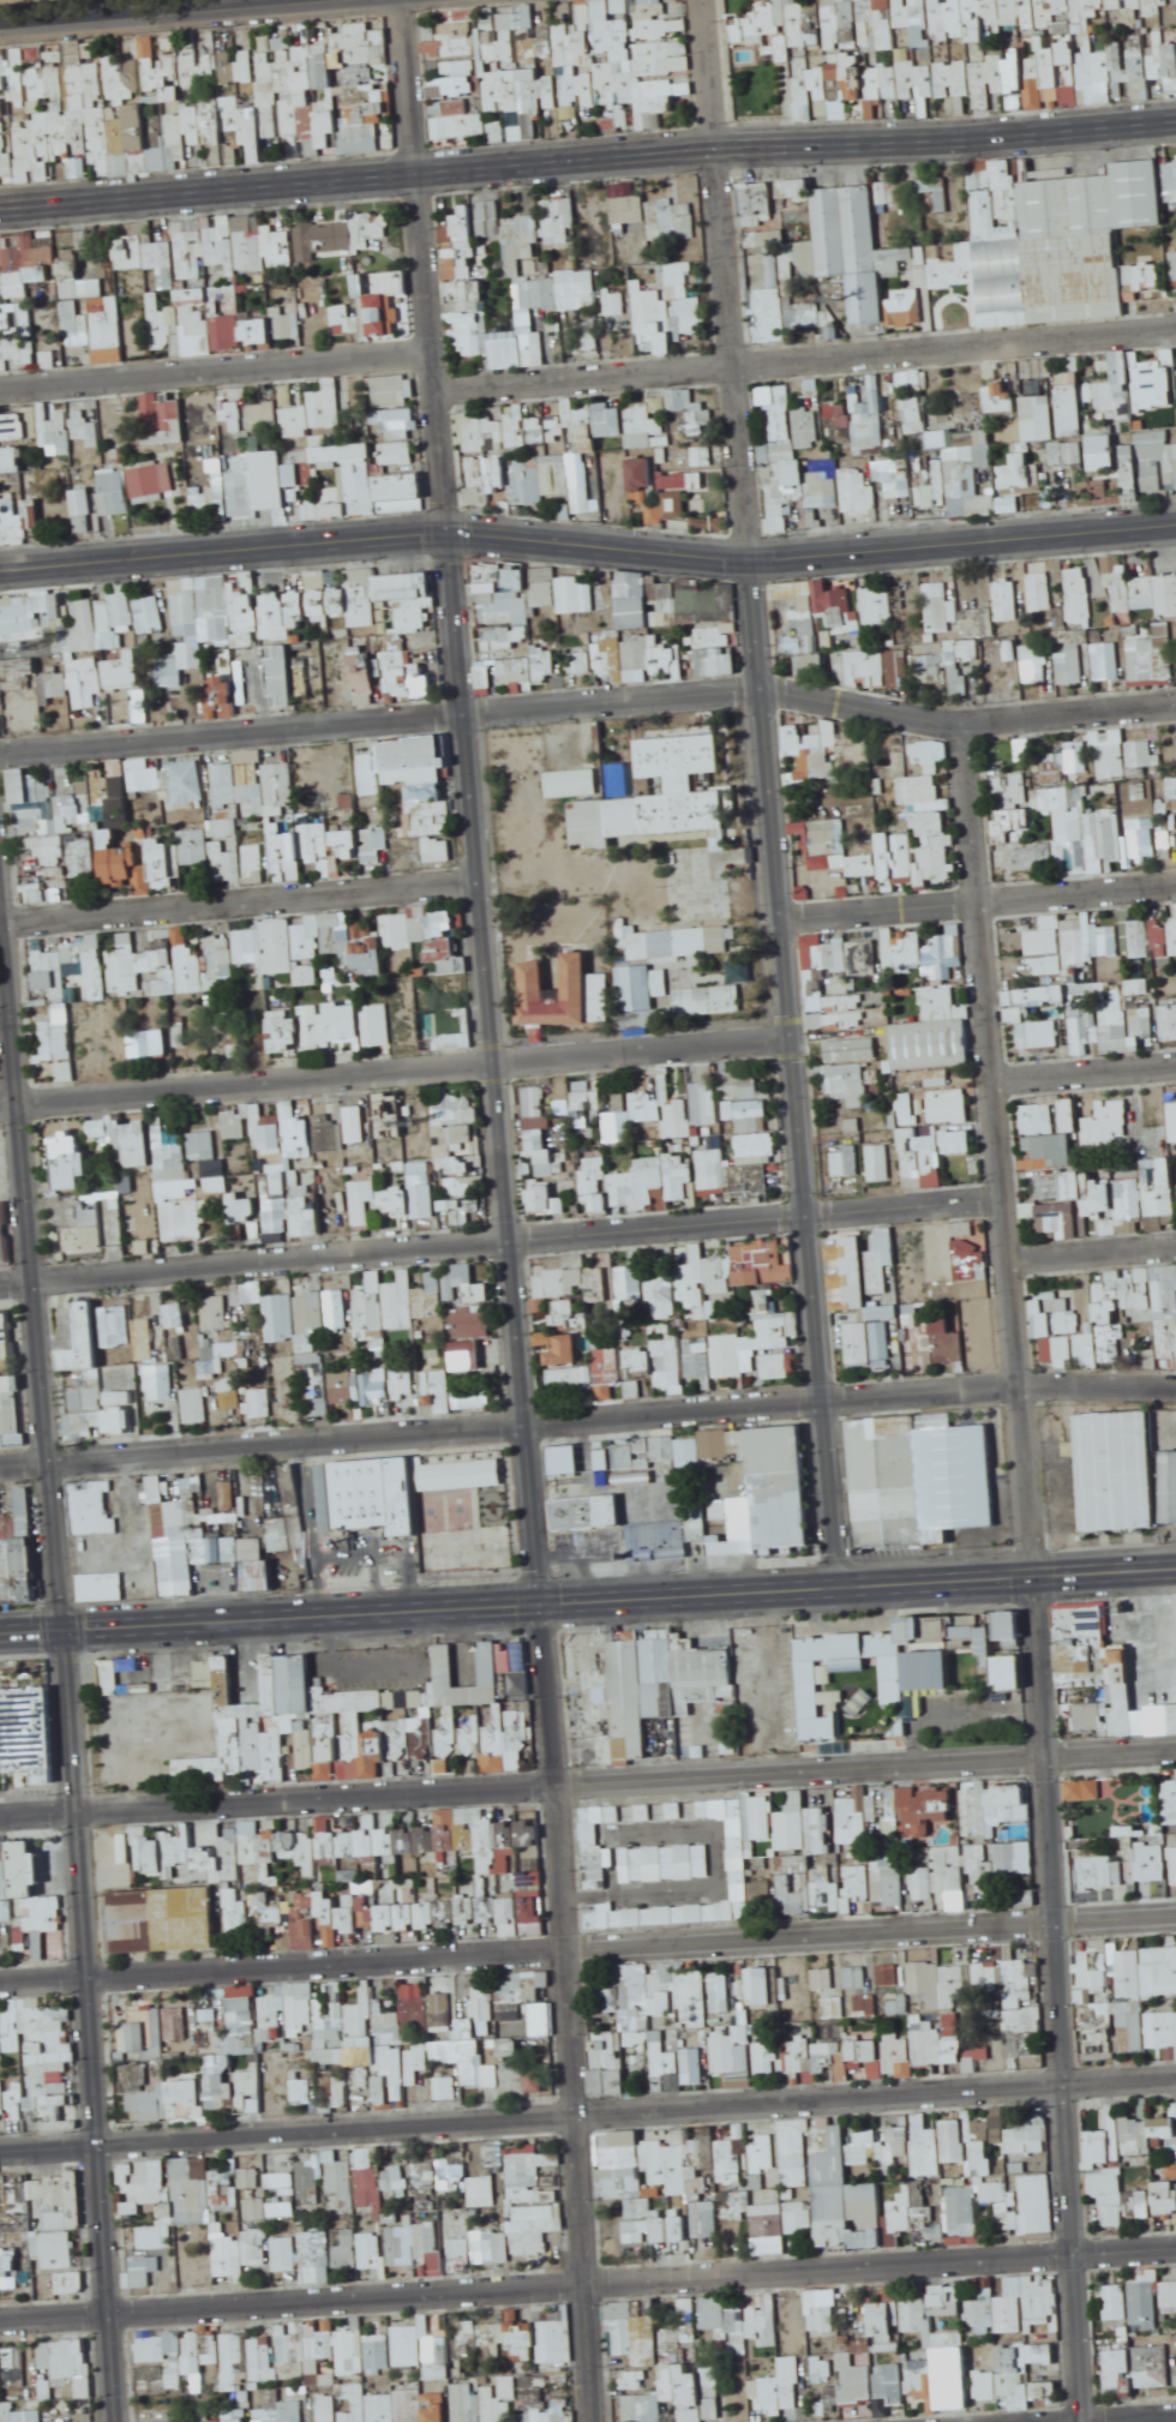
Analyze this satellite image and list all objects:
building: (1045, 2)
building: (1126, 7)
road: (98, 8)
building: (886, 24)
building: (748, 30)
building: (1052, 37)
building: (562, 46)
building: (935, 55)
building: (1169, 66)
building: (458, 70)
building: (136, 127)
building: (50, 136)
road: (797, 138)
road: (209, 187)
building: (488, 220)
building: (247, 223)
building: (460, 244)
building: (1072, 245)
building: (846, 247)
building: (1174, 265)
building: (938, 266)
building: (191, 269)
building: (16, 286)
building: (616, 302)
building: (374, 306)
building: (236, 319)
building: (526, 323)
building: (587, 344)
road: (434, 353)
road: (806, 356)
road: (216, 366)
building: (1038, 368)
building: (1136, 385)
building: (391, 390)
building: (1001, 398)
building: (682, 400)
building: (1070, 403)
building: (313, 413)
building: (234, 414)
building: (265, 416)
building: (913, 416)
building: (1038, 418)
building: (610, 419)
building: (162, 420)
building: (52, 426)
building: (13, 427)
building: (808, 427)
building: (869, 433)
building: (779, 434)
building: (586, 438)
building: (961, 438)
building: (397, 452)
building: (1067, 452)
building: (1158, 460)
building: (12, 462)
building: (500, 467)
building: (892, 469)
building: (1015, 472)
building: (642, 478)
building: (527, 480)
building: (804, 486)
building: (682, 487)
building: (242, 492)
building: (103, 496)
building: (586, 499)
building: (856, 499)
building: (1008, 504)
road: (748, 516)
road: (224, 544)
road: (812, 547)
building: (631, 577)
building: (488, 587)
building: (563, 596)
building: (1040, 598)
building: (1122, 598)
building: (214, 600)
building: (320, 601)
building: (296, 604)
building: (1079, 604)
building: (361, 605)
building: (818, 605)
building: (877, 605)
building: (1008, 607)
building: (150, 615)
building: (102, 623)
building: (1154, 642)
building: (794, 645)
building: (641, 653)
building: (1106, 661)
building: (811, 663)
building: (1037, 664)
building: (179, 665)
building: (1072, 666)
building: (527, 669)
building: (20, 670)
building: (281, 676)
building: (127, 678)
building: (958, 679)
building: (410, 682)
building: (86, 687)
building: (365, 687)
road: (820, 694)
building: (220, 696)
road: (232, 726)
building: (793, 739)
building: (1111, 755)
building: (659, 756)
building: (1141, 760)
building: (1061, 765)
building: (824, 766)
building: (372, 774)
building: (924, 777)
building: (1018, 780)
building: (557, 784)
building: (30, 786)
building: (233, 791)
building: (276, 791)
building: (316, 817)
building: (1015, 819)
building: (588, 821)
building: (1070, 823)
building: (85, 825)
building: (827, 837)
building: (360, 844)
building: (318, 846)
building: (82, 853)
building: (896, 855)
building: (575, 857)
building: (1033, 857)
building: (868, 864)
building: (227, 867)
road: (239, 898)
road: (979, 898)
building: (1153, 936)
building: (380, 939)
building: (305, 941)
building: (1060, 941)
building: (1106, 941)
building: (678, 942)
building: (247, 945)
building: (72, 953)
building: (227, 966)
building: (126, 969)
building: (96, 970)
building: (50, 973)
building: (532, 975)
building: (836, 984)
building: (641, 987)
building: (937, 996)
building: (710, 1000)
building: (1084, 1014)
building: (1168, 1021)
building: (330, 1024)
building: (376, 1025)
building: (224, 1032)
building: (284, 1033)
building: (1040, 1035)
building: (56, 1041)
building: (89, 1041)
building: (150, 1042)
building: (852, 1050)
road: (396, 1066)
road: (1084, 1069)
building: (926, 1079)
building: (706, 1102)
building: (949, 1107)
building: (586, 1108)
building: (748, 1110)
building: (631, 1115)
building: (234, 1125)
building: (270, 1133)
building: (541, 1137)
building: (450, 1139)
building: (203, 1145)
building: (68, 1161)
road: (499, 1234)
road: (1092, 1248)
road: (815, 1301)
road: (587, 1415)
road: (1007, 1561)
road: (535, 1564)
road: (1034, 1570)
road: (689, 1579)
road: (841, 1582)
road: (1009, 1584)
road: (350, 1599)
road: (691, 1601)
road: (114, 1612)
road: (32, 1617)
road: (302, 1623)
road: (32, 1637)
road: (67, 1650)
road: (587, 1780)
road: (626, 1828)
road: (667, 1886)
road: (588, 1947)
road: (588, 2112)

